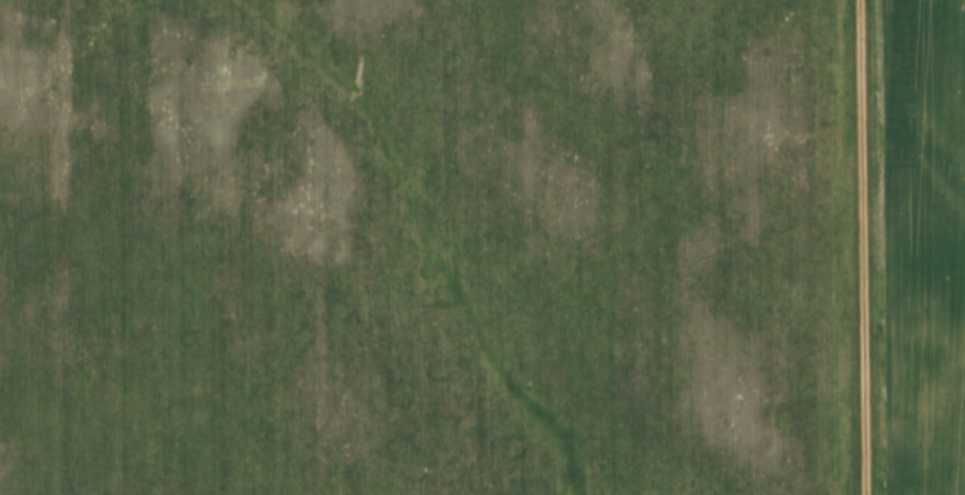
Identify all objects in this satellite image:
road: (854, 247)

